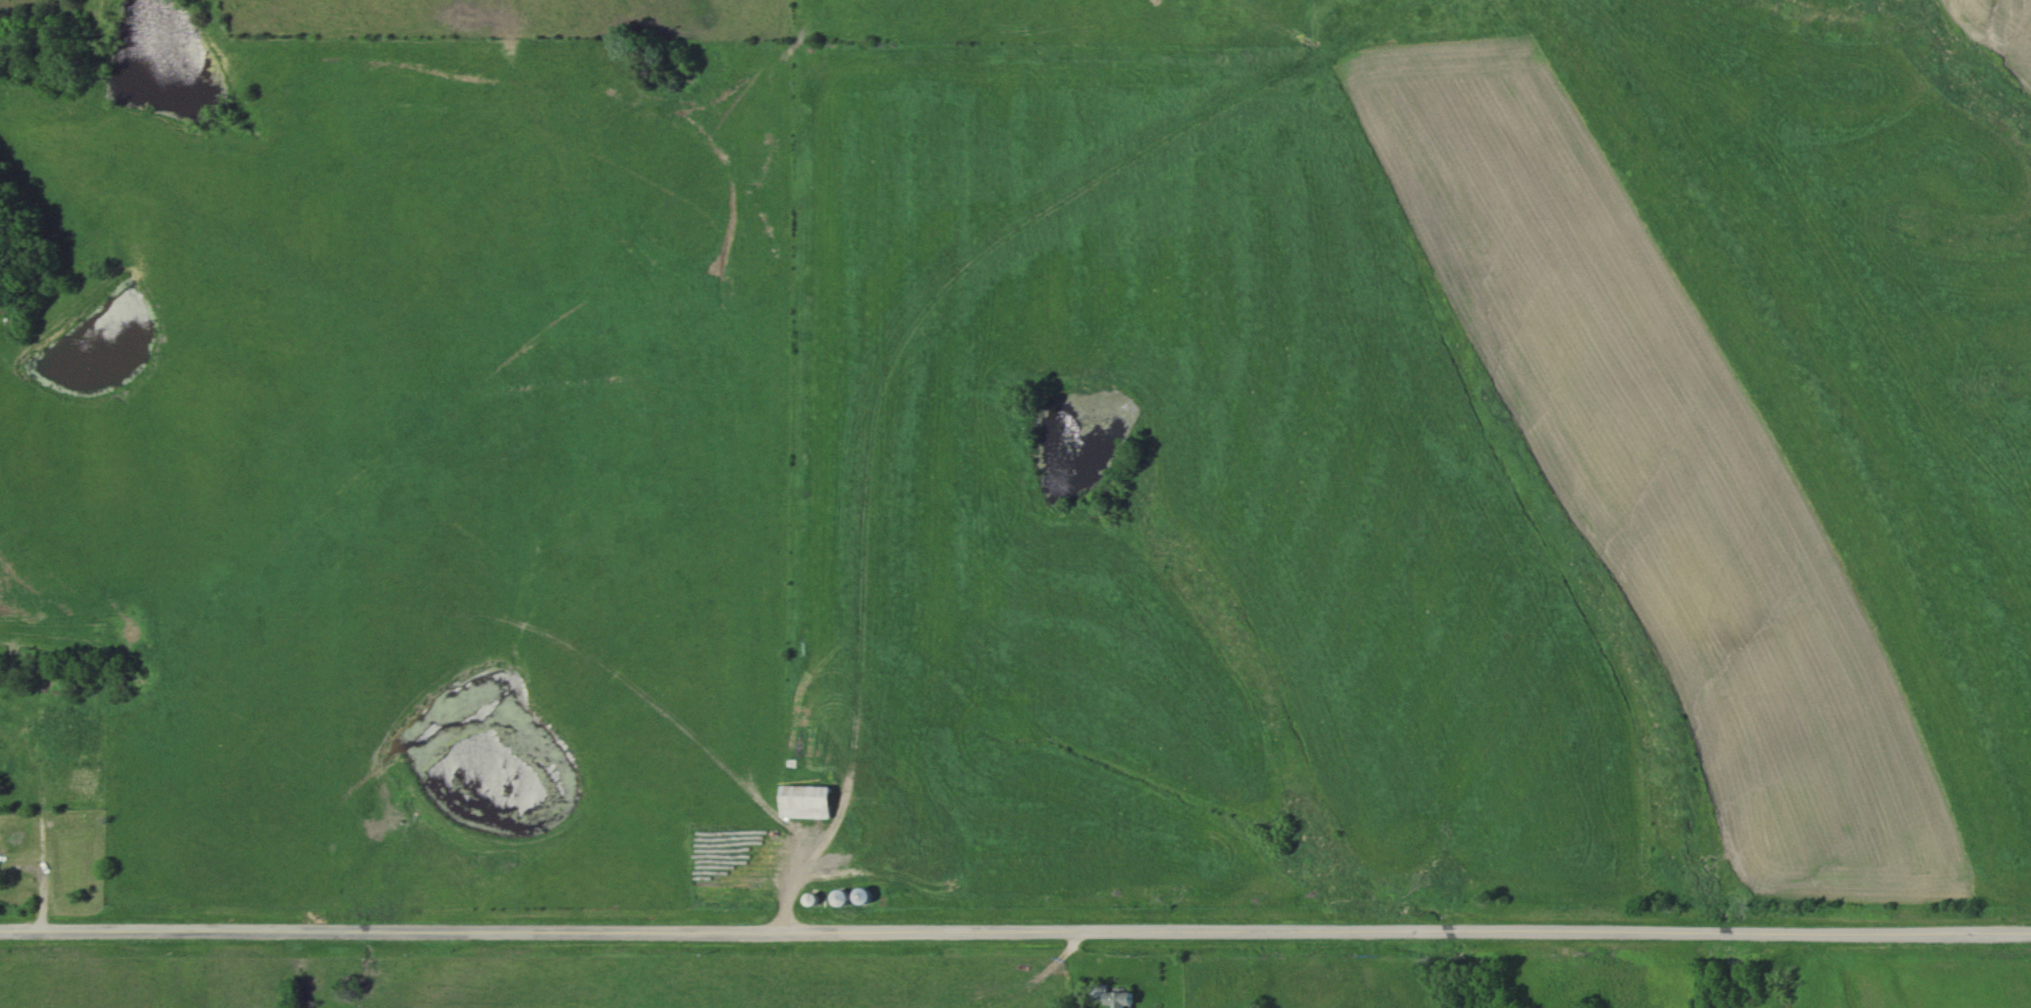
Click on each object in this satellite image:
building: (801, 801)
building: (854, 895)
building: (832, 897)
road: (1015, 931)
building: (1104, 995)

